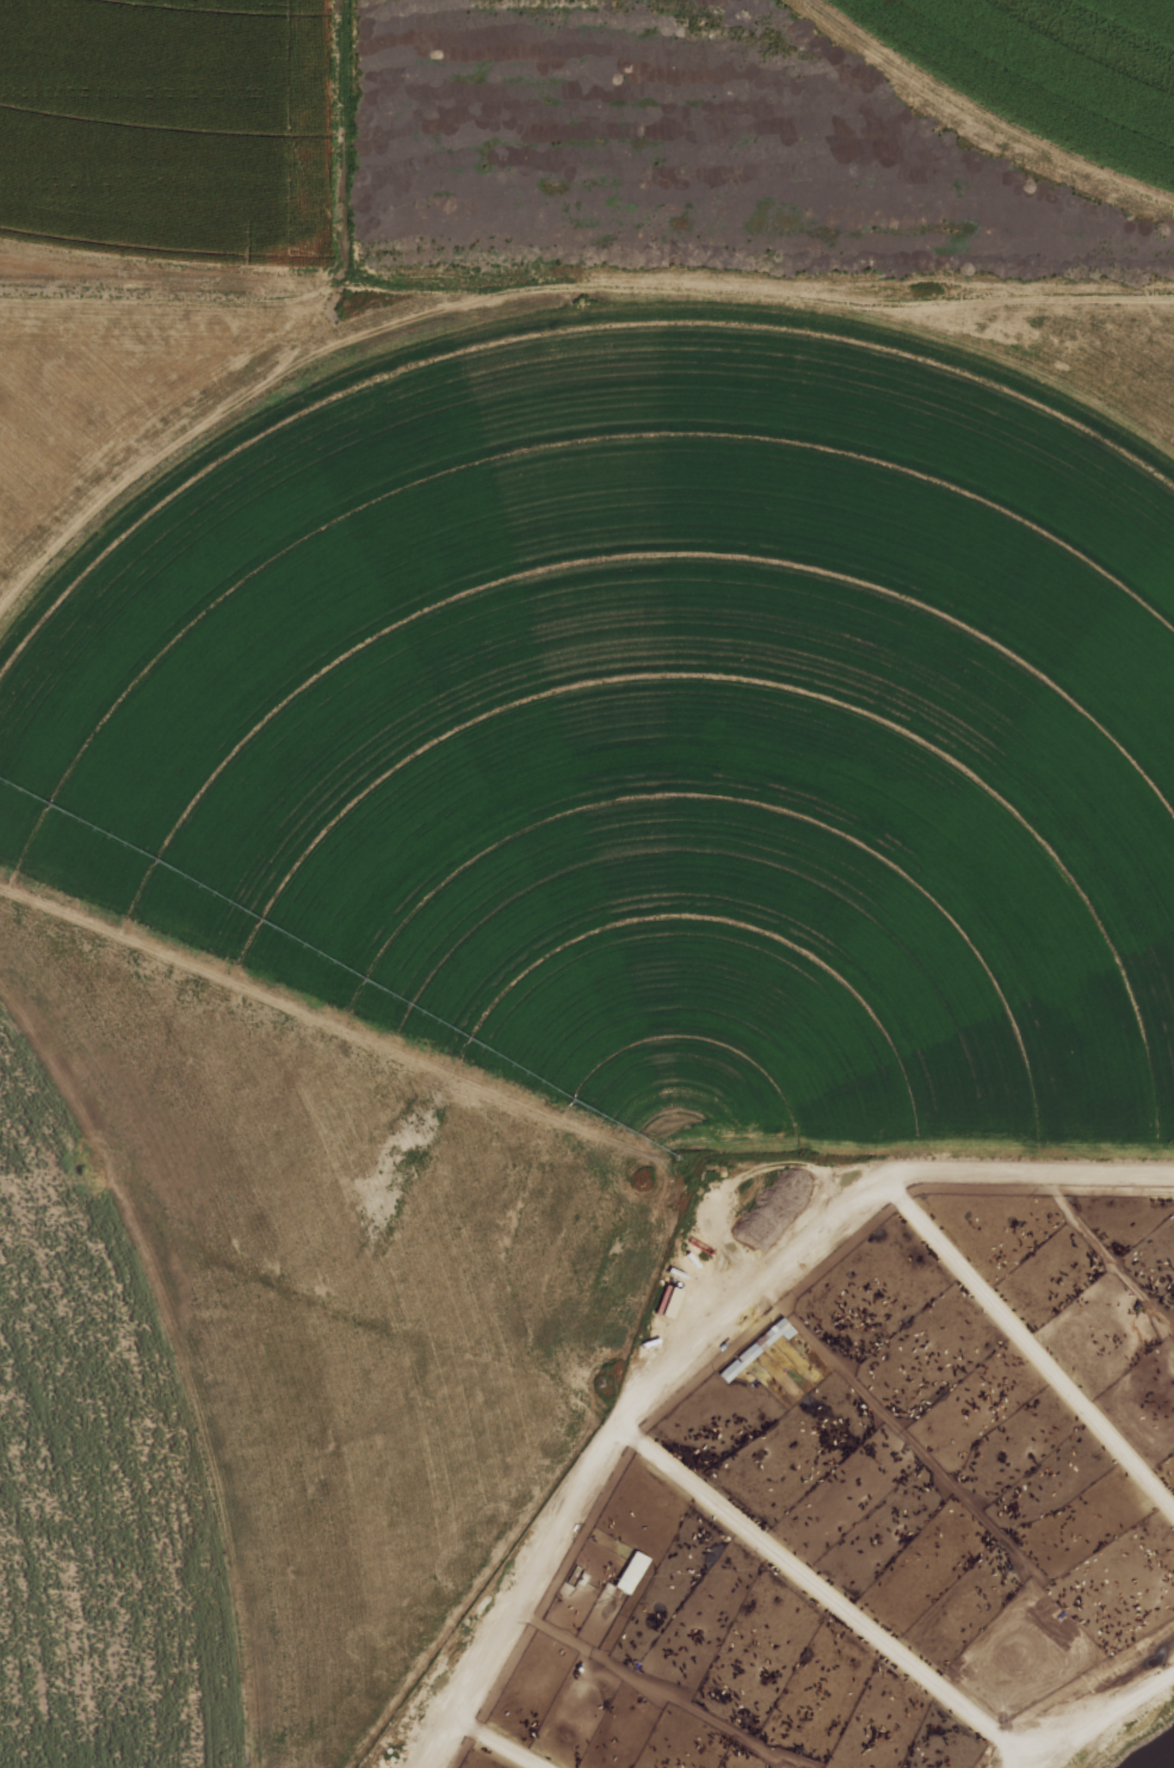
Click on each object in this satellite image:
road: (333, 308)
road: (1093, 1723)

